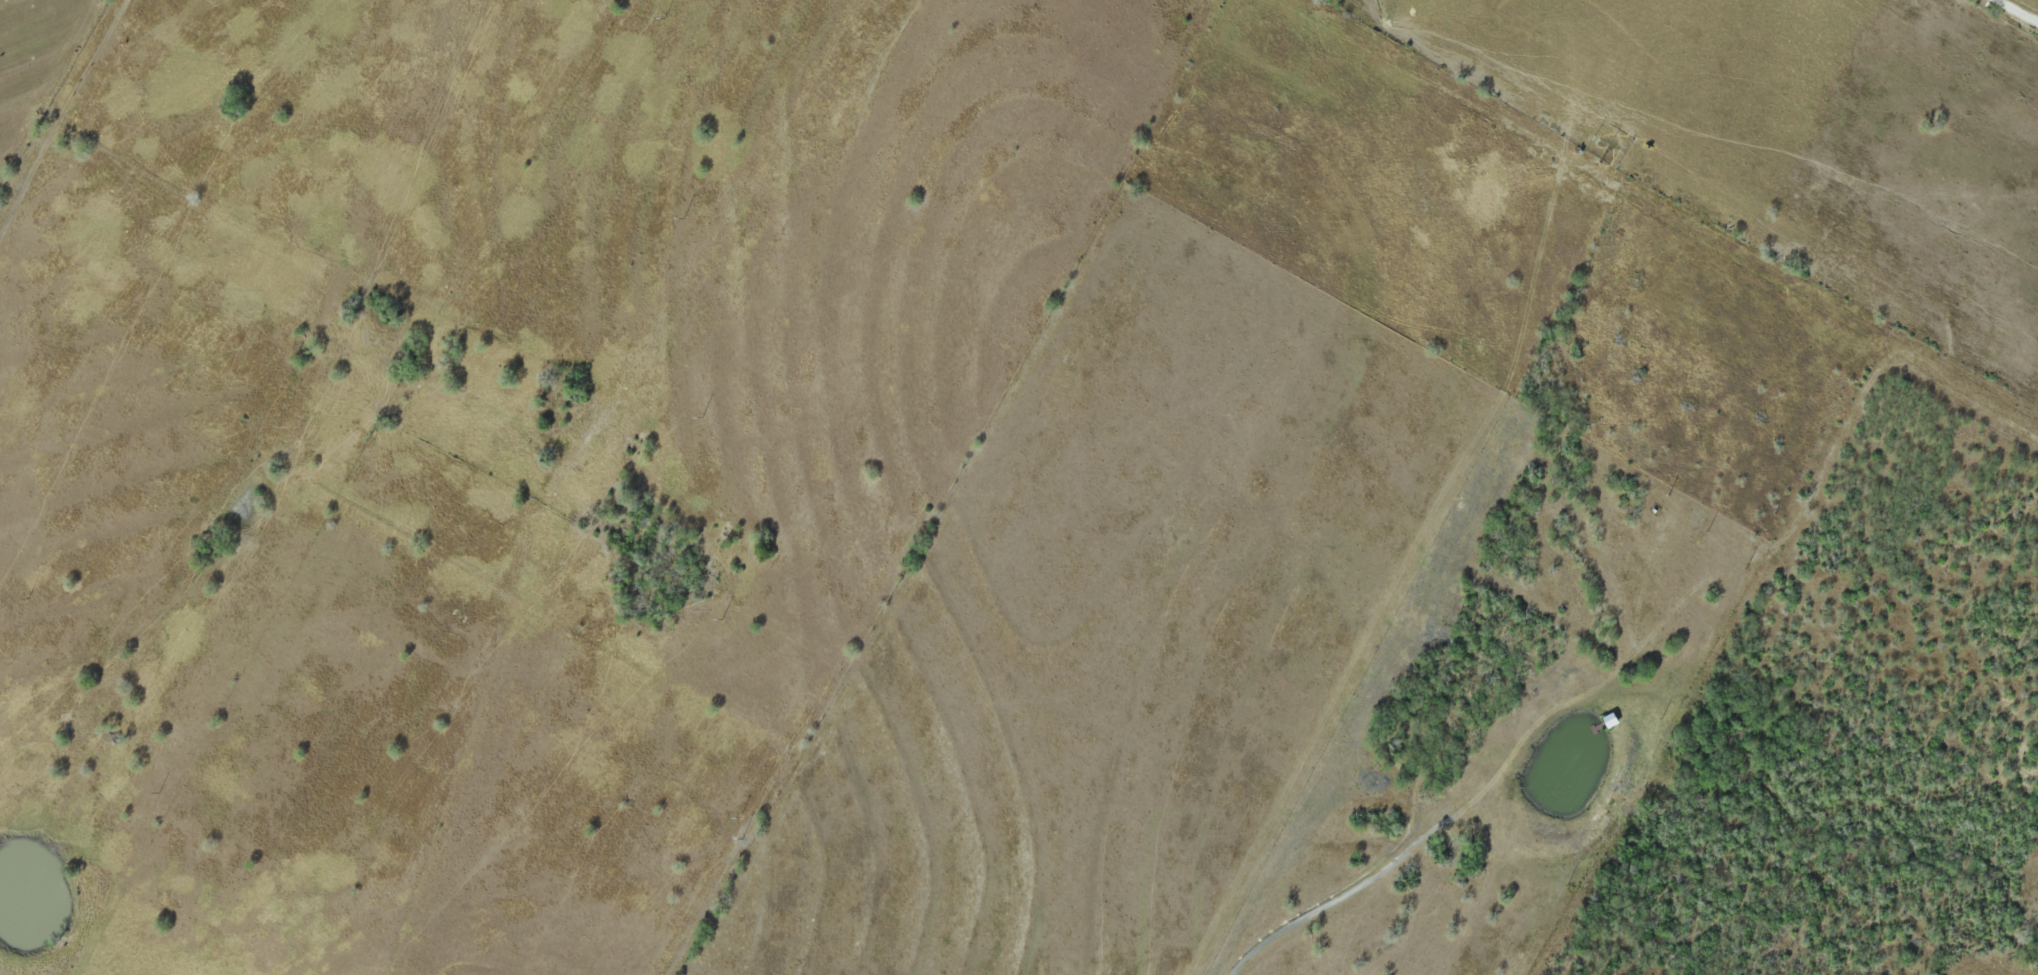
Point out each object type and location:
road: (2022, 8)

